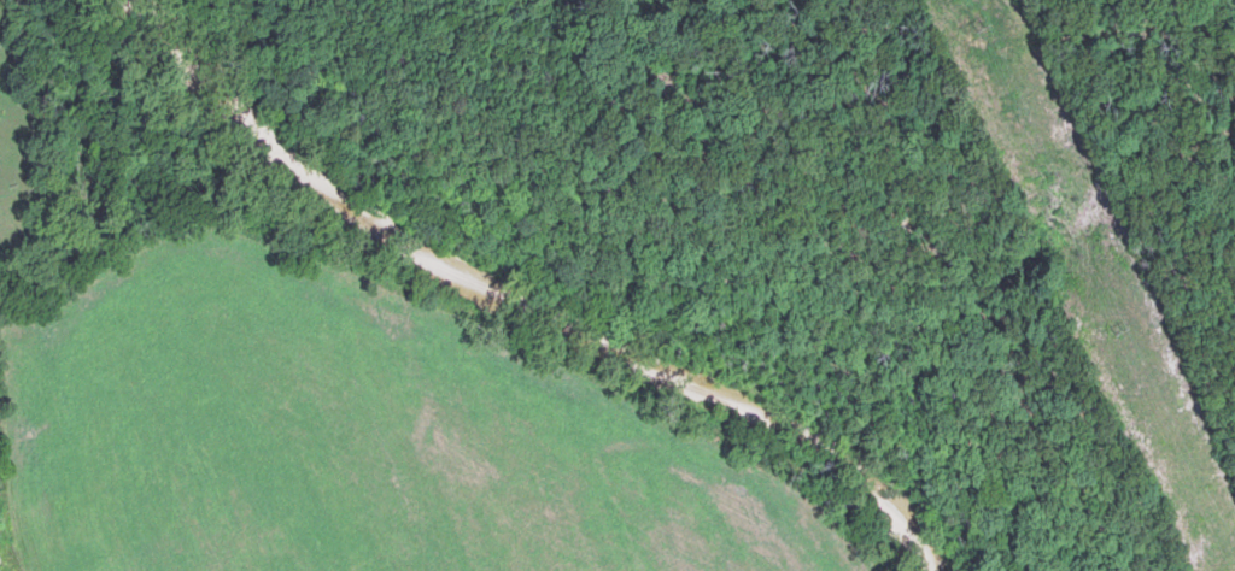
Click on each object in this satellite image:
park: (22, 137)

